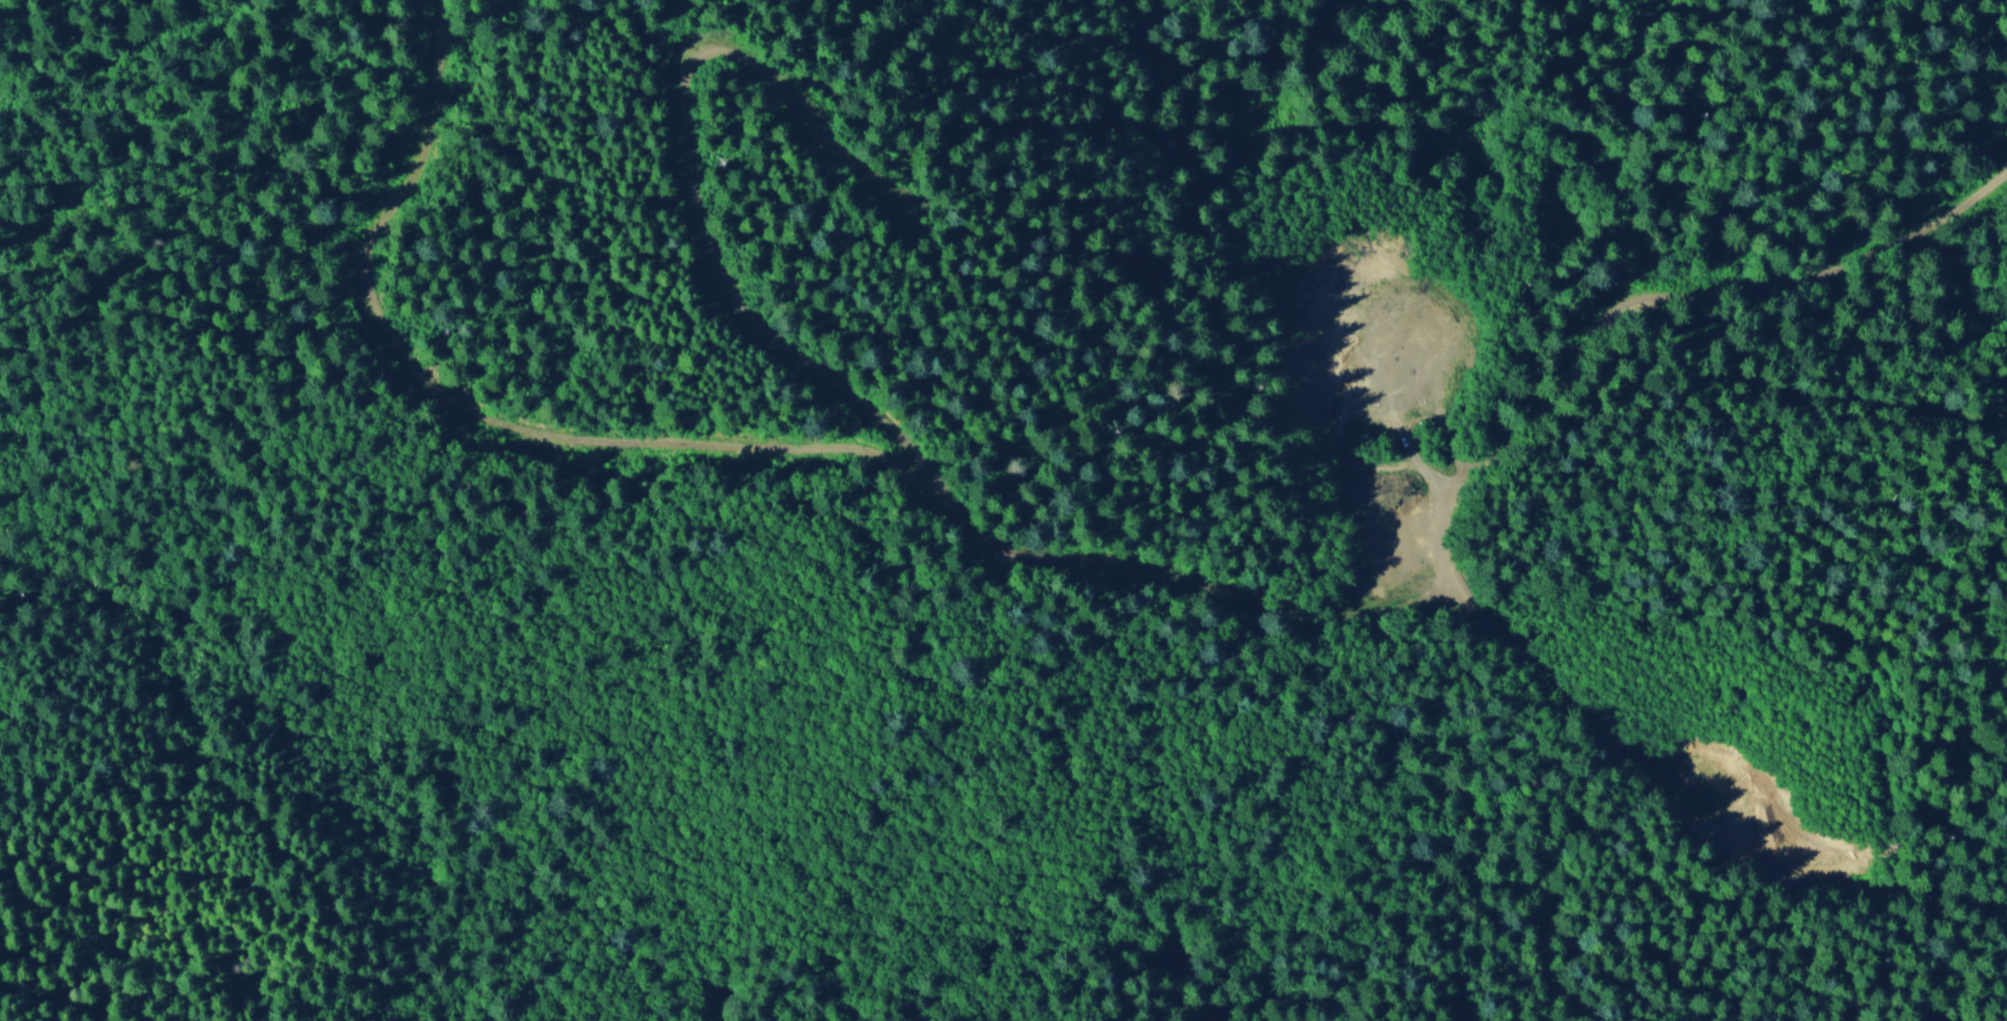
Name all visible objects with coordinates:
road: (840, 387)
road: (478, 410)
road: (1446, 543)

